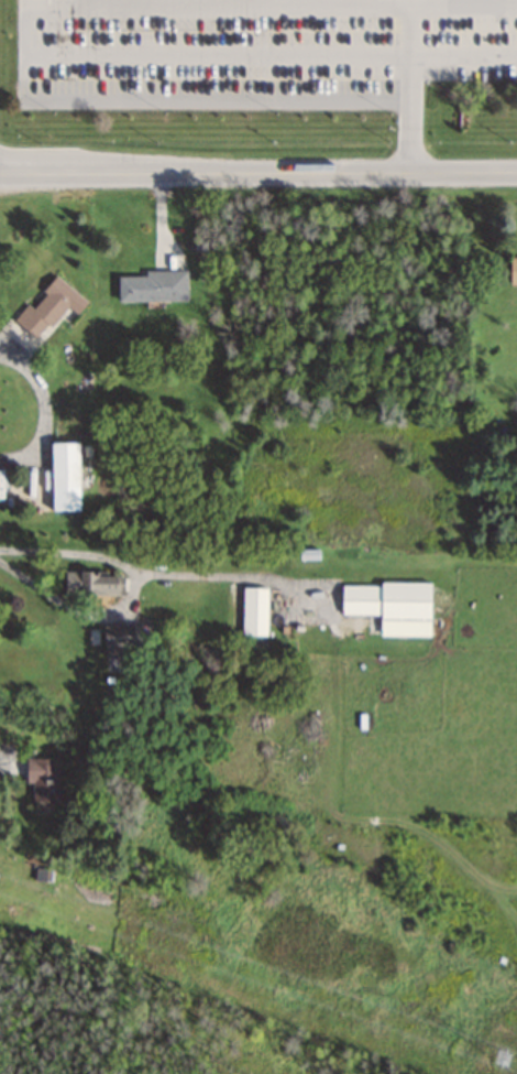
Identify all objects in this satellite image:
road: (455, 2)
road: (395, 58)
road: (258, 174)
building: (513, 271)
building: (153, 286)
building: (48, 307)
building: (64, 465)
road: (152, 573)
building: (92, 584)
building: (384, 600)
road: (73, 609)
building: (253, 611)
building: (116, 636)
building: (42, 779)
power tower: (502, 1056)

